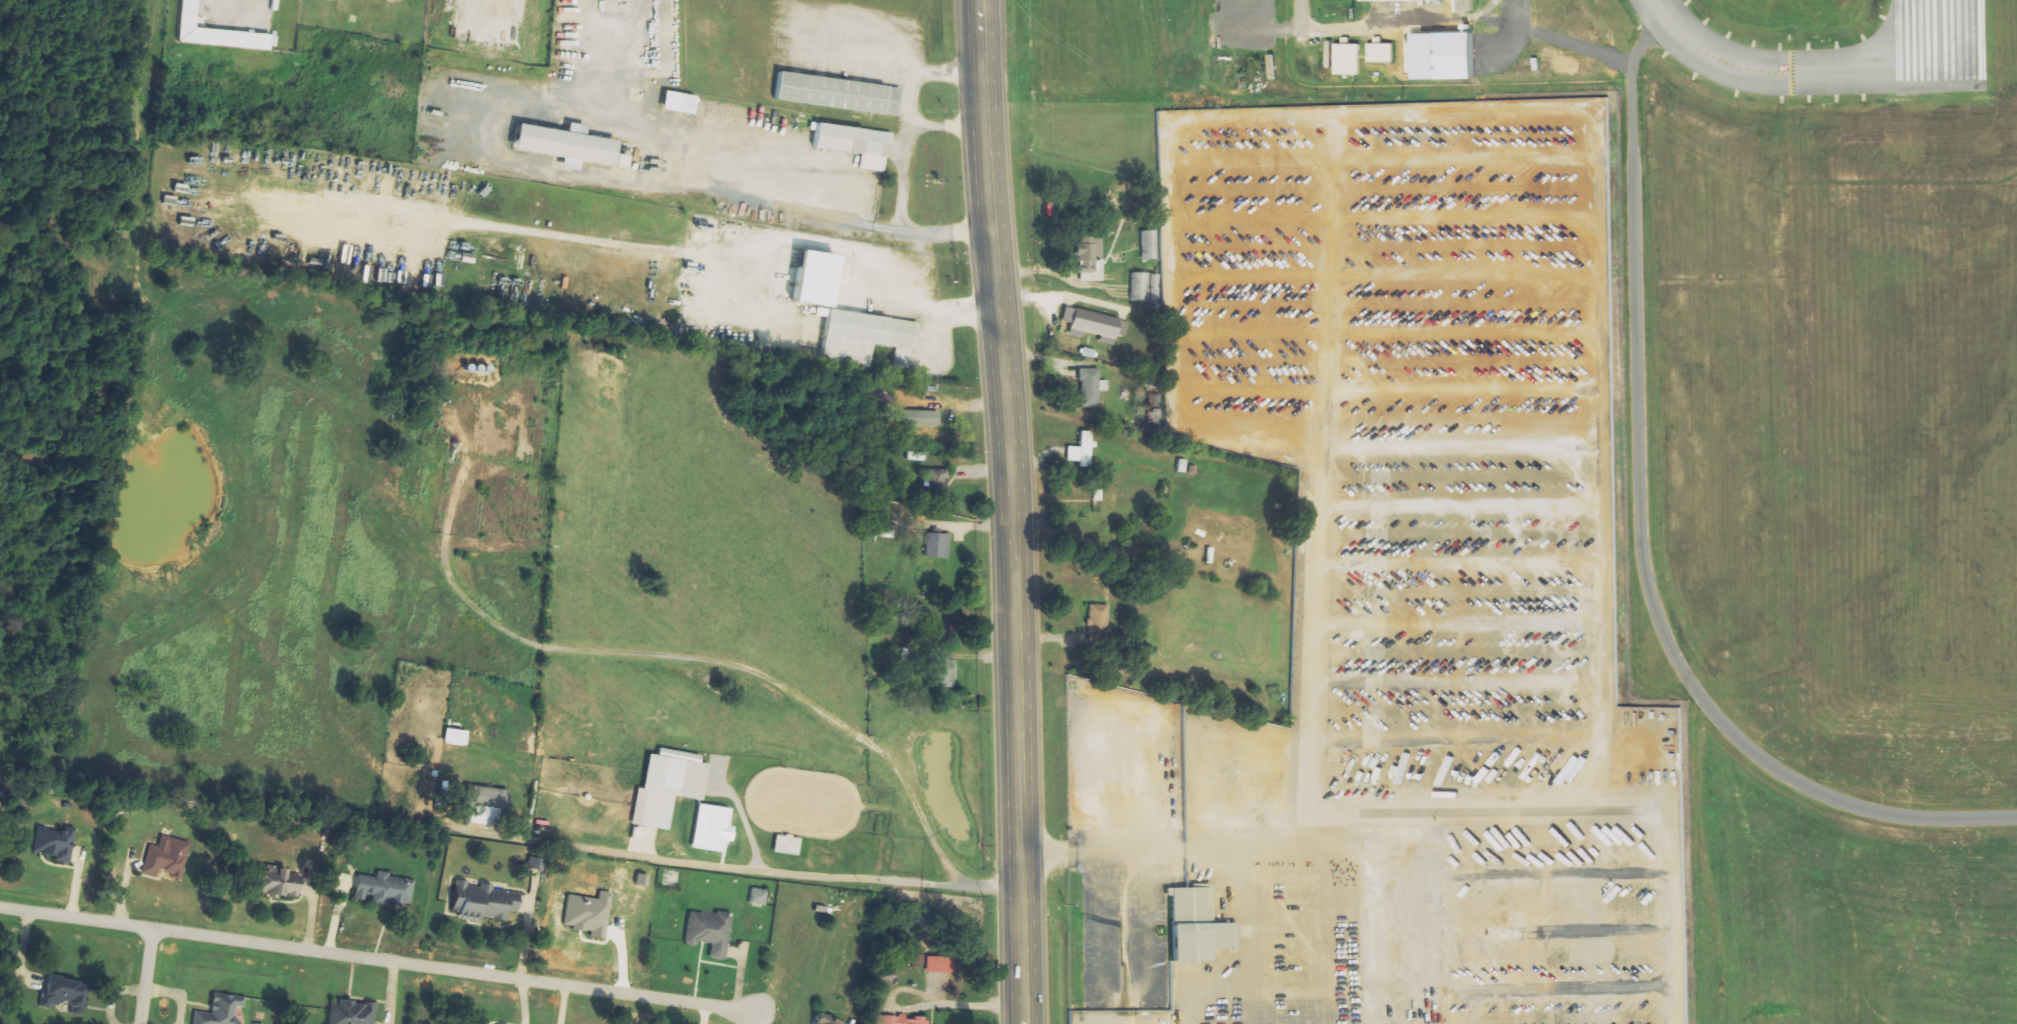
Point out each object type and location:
building: (1382, 0)
building: (623, 1)
building: (1462, 5)
road: (1300, 15)
road: (1337, 29)
building: (214, 31)
airport runway: (1939, 44)
building: (1379, 53)
building: (1345, 59)
airport taxiway: (1783, 73)
building: (837, 93)
building: (713, 107)
building: (853, 142)
building: (563, 143)
building: (1147, 245)
building: (1088, 259)
road: (114, 270)
building: (1142, 287)
building: (1091, 324)
building: (864, 337)
building: (1087, 385)
building: (926, 404)
building: (1078, 450)
airport: (1819, 475)
building: (934, 481)
building: (1101, 505)
road: (1010, 511)
building: (935, 545)
building: (1097, 623)
building: (942, 665)
building: (459, 738)
building: (474, 770)
building: (666, 786)
building: (482, 801)
building: (714, 828)
building: (52, 843)
building: (785, 844)
building: (164, 856)
building: (539, 863)
building: (275, 881)
building: (383, 889)
building: (756, 896)
building: (482, 901)
building: (591, 913)
road: (76, 916)
building: (1191, 926)
building: (707, 930)
building: (942, 964)
road: (454, 969)
road: (146, 975)
building: (63, 993)
building: (218, 1010)
building: (349, 1012)
building: (825, 1019)
building: (902, 1020)

